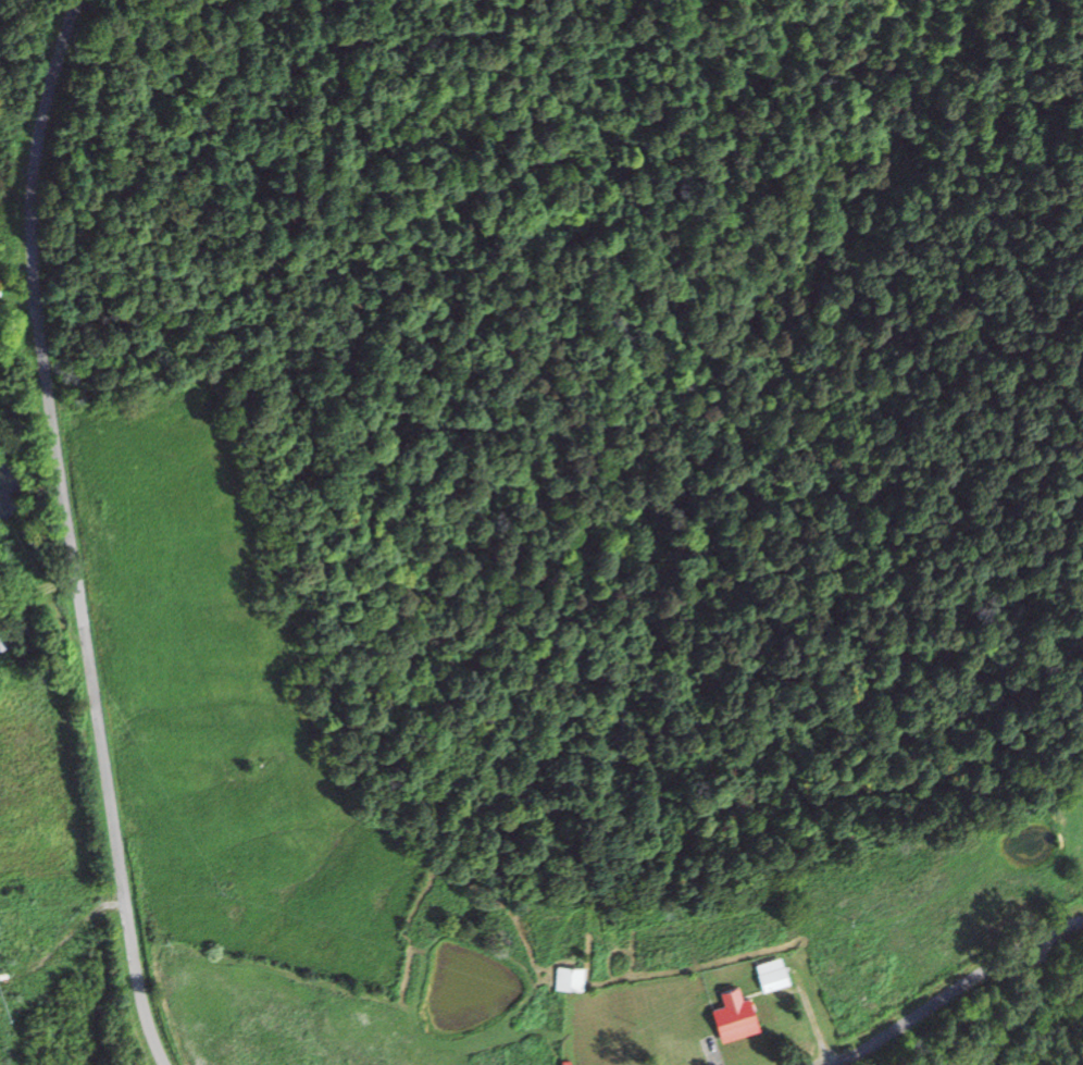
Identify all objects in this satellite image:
road: (64, 533)
road: (959, 987)

